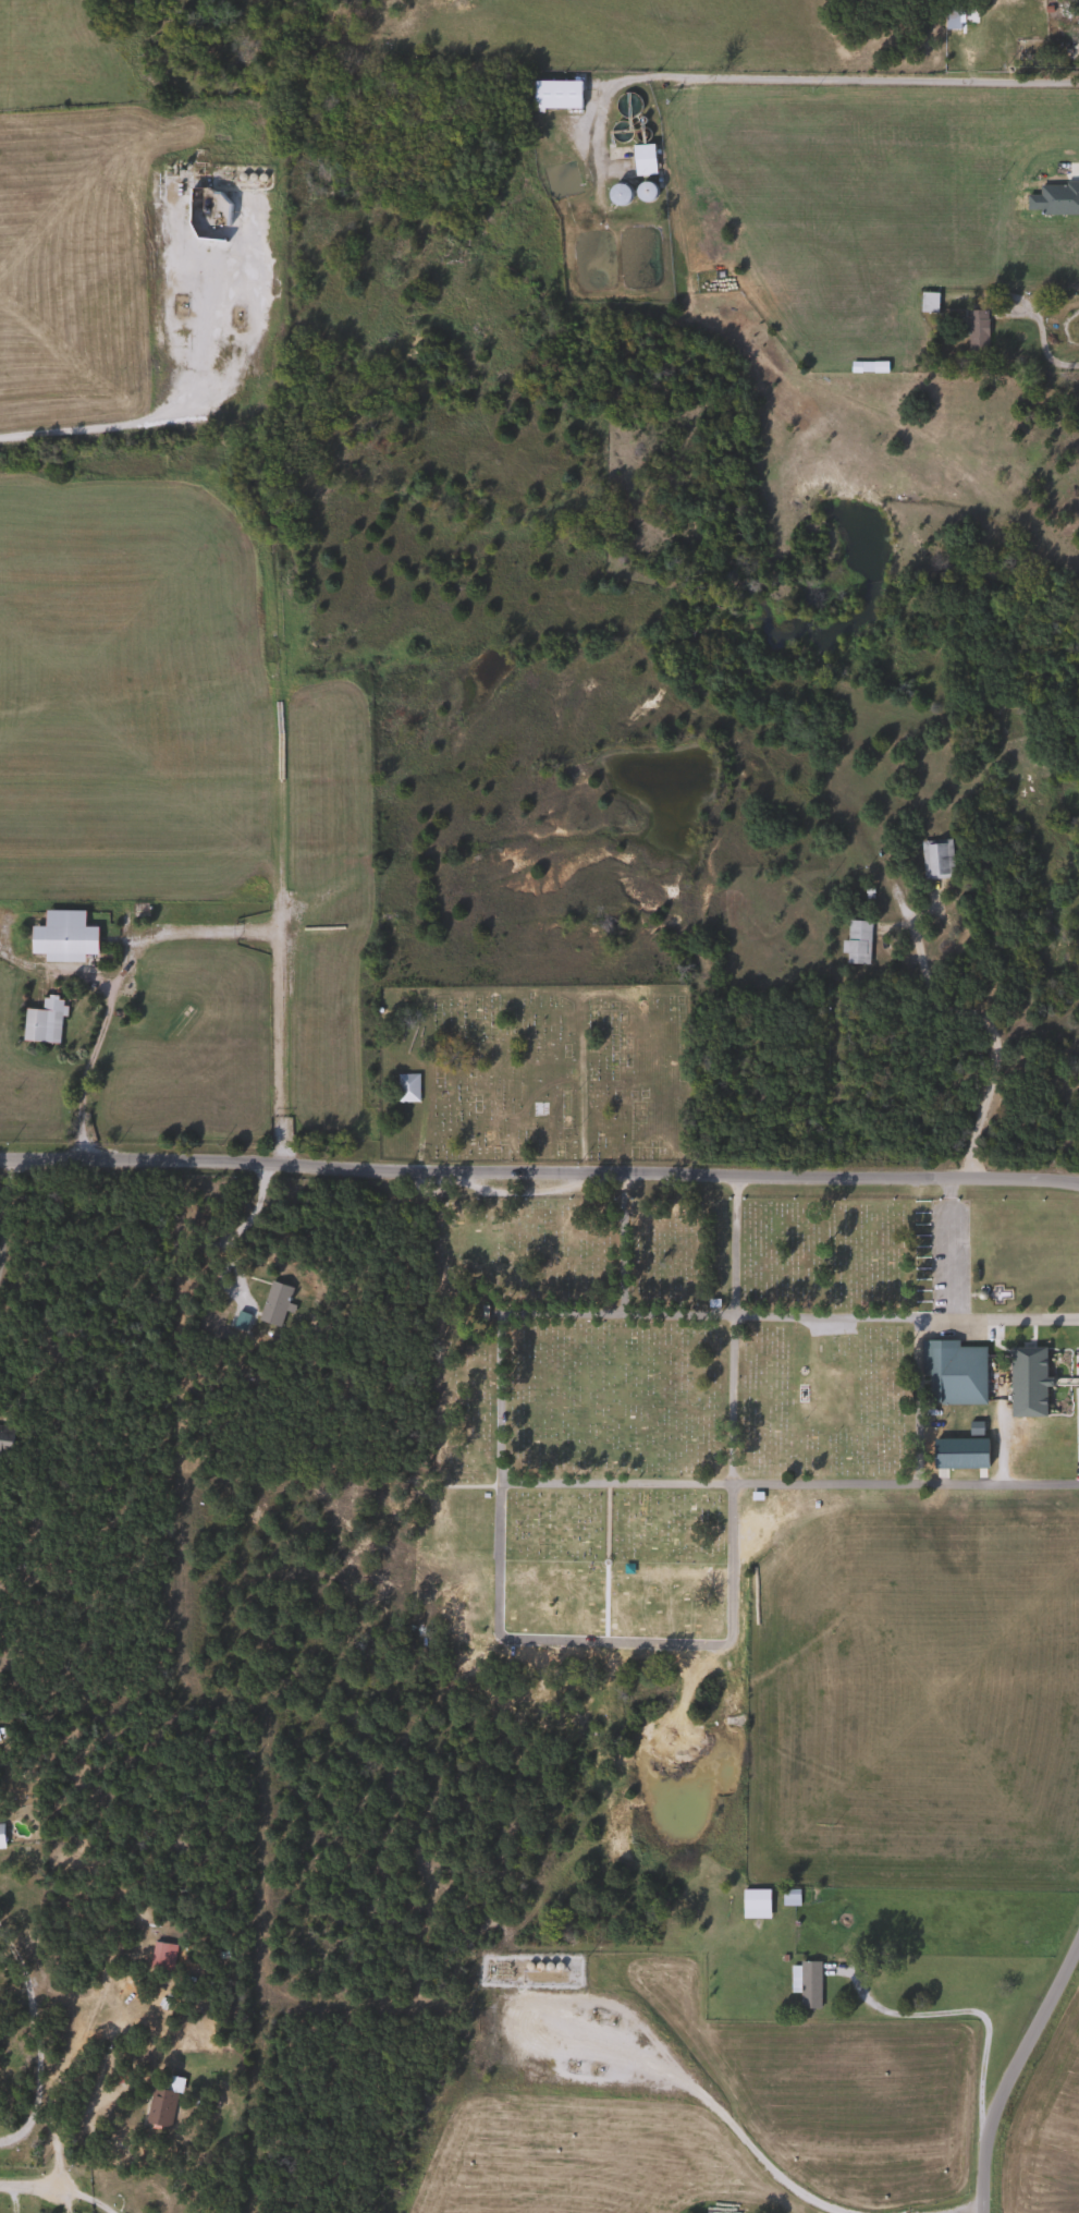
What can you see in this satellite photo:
building: (1075, 14)
building: (948, 19)
road: (846, 78)
building: (553, 95)
building: (640, 155)
road: (1071, 168)
building: (641, 193)
building: (615, 195)
building: (203, 216)
building: (925, 303)
building: (973, 330)
road: (1040, 335)
road: (106, 421)
building: (933, 858)
road: (206, 933)
building: (60, 935)
building: (854, 941)
road: (977, 1017)
building: (40, 1021)
park: (530, 1072)
building: (404, 1089)
road: (539, 1172)
road: (233, 1231)
road: (620, 1243)
road: (732, 1244)
road: (948, 1247)
building: (479, 1312)
road: (904, 1315)
building: (949, 1372)
building: (806, 1389)
road: (728, 1398)
building: (4, 1439)
road: (1000, 1452)
road: (591, 1481)
park: (780, 1503)
building: (787, 1898)
building: (159, 1957)
building: (549, 1965)
road: (964, 2011)
road: (35, 2041)
road: (1011, 2066)
road: (688, 2080)
building: (158, 2107)
building: (108, 2184)
road: (39, 2187)
road: (11, 2199)
road: (95, 2203)

